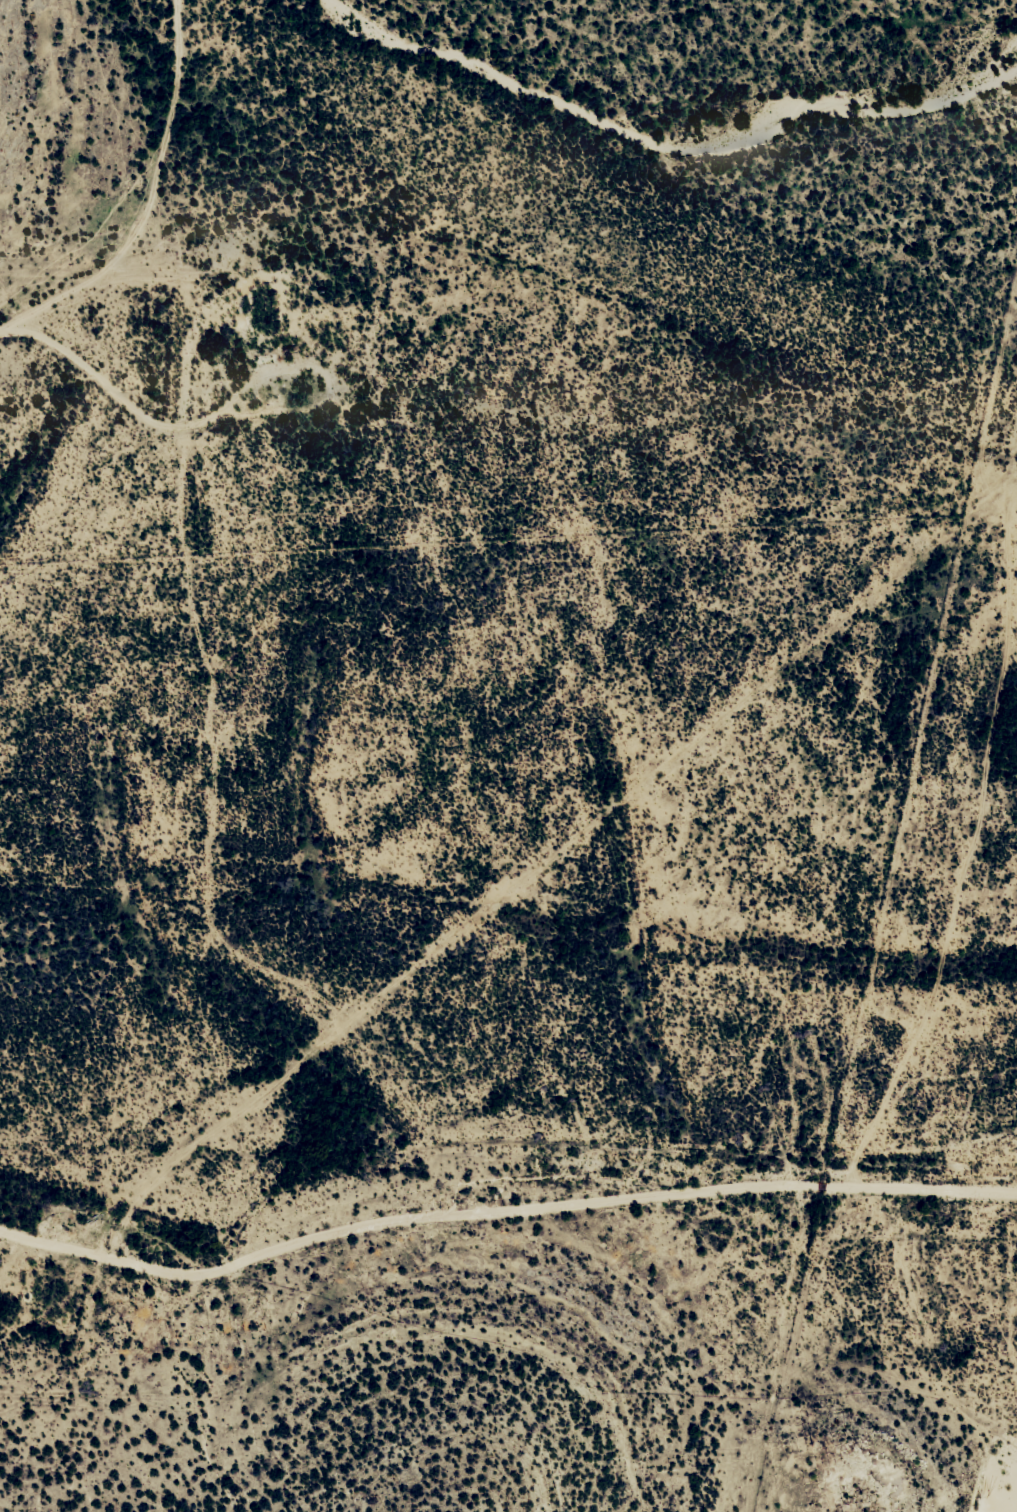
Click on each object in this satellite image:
road: (125, 208)
road: (504, 1230)
road: (779, 1361)

